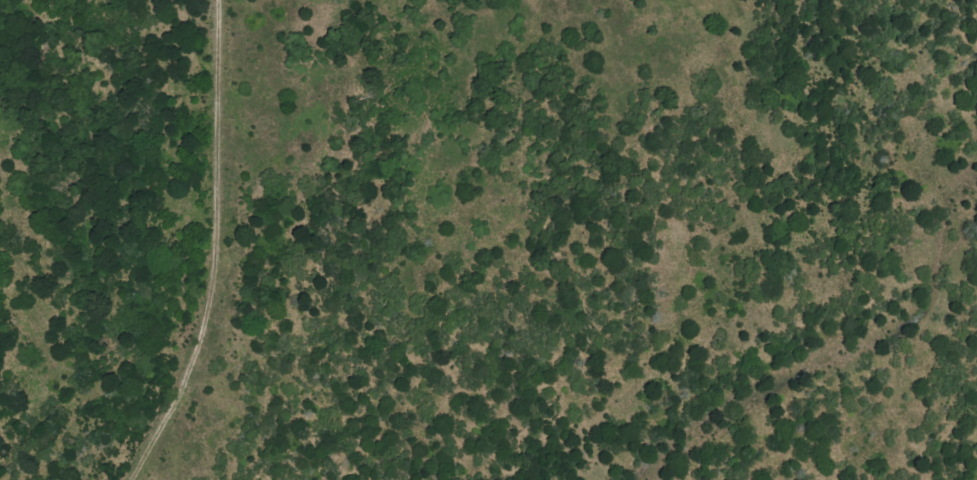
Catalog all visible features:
road: (215, 250)

